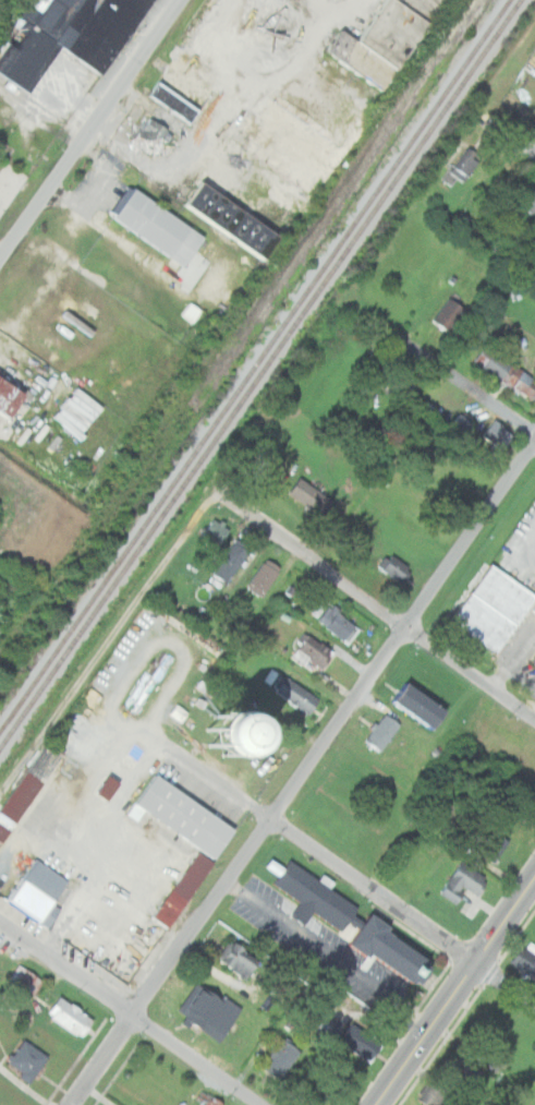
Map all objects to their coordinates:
building: (39, 11)
building: (69, 39)
building: (187, 86)
road: (90, 129)
building: (151, 136)
road: (525, 146)
building: (267, 159)
building: (465, 164)
building: (528, 197)
building: (157, 225)
building: (189, 312)
building: (448, 315)
building: (534, 327)
railway: (250, 328)
building: (534, 361)
railway: (254, 364)
building: (504, 371)
railway: (259, 374)
building: (402, 381)
road: (464, 383)
building: (10, 398)
building: (424, 407)
building: (73, 411)
building: (457, 423)
building: (497, 434)
building: (305, 496)
building: (211, 530)
building: (227, 563)
building: (391, 567)
building: (259, 577)
road: (372, 605)
building: (493, 609)
building: (335, 624)
building: (309, 651)
road: (106, 654)
building: (534, 661)
building: (291, 694)
building: (409, 704)
building: (377, 732)
water tower: (226, 736)
road: (311, 774)
building: (21, 788)
building: (494, 844)
road: (309, 845)
building: (187, 881)
building: (462, 882)
building: (40, 892)
building: (317, 896)
building: (396, 950)
building: (525, 959)
building: (238, 960)
building: (23, 980)
road: (459, 995)
building: (210, 1010)
road: (129, 1012)
building: (70, 1016)
building: (318, 1026)
building: (363, 1042)
building: (282, 1058)
building: (27, 1060)
building: (466, 1070)
building: (435, 1093)
building: (207, 1098)

